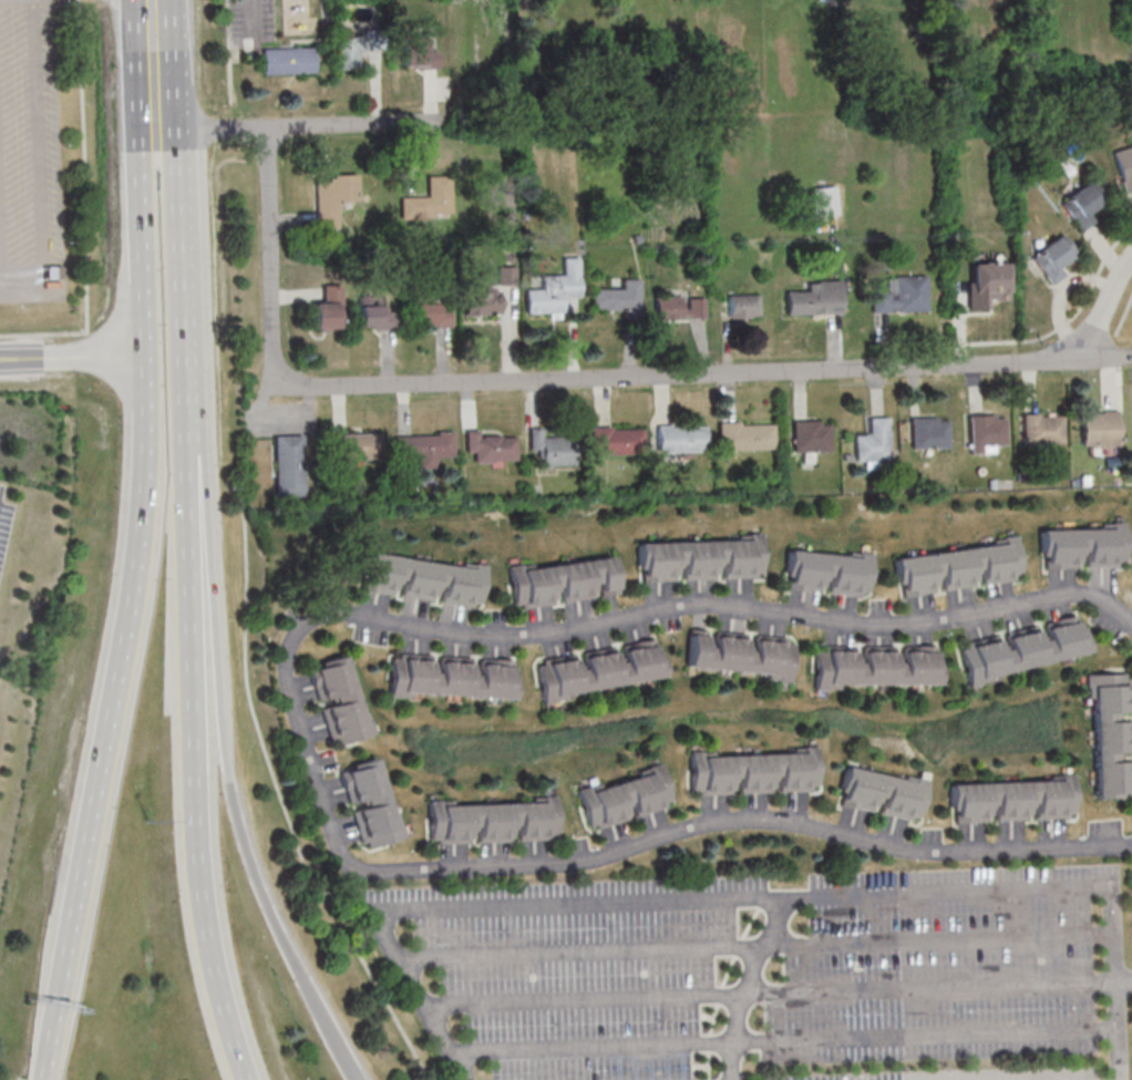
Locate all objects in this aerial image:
road: (253, 4)
building: (348, 52)
building: (418, 53)
building: (289, 60)
road: (154, 65)
road: (358, 125)
road: (210, 130)
road: (156, 143)
parking lot: (30, 154)
building: (1124, 167)
building: (330, 200)
building: (430, 200)
building: (824, 200)
building: (1081, 204)
road: (85, 209)
road: (270, 249)
road: (169, 254)
road: (152, 255)
building: (1052, 258)
building: (53, 272)
building: (986, 282)
building: (554, 289)
building: (902, 296)
building: (615, 301)
building: (816, 301)
building: (480, 302)
building: (743, 306)
building: (679, 308)
building: (328, 309)
building: (431, 313)
building: (374, 315)
road: (73, 358)
road: (1104, 359)
road: (731, 374)
building: (1040, 429)
building: (1099, 429)
building: (986, 430)
building: (928, 433)
building: (748, 436)
building: (680, 439)
building: (815, 440)
building: (615, 442)
building: (872, 442)
building: (424, 446)
building: (352, 449)
building: (491, 449)
building: (549, 449)
building: (287, 466)
building: (1083, 547)
building: (700, 558)
building: (956, 567)
building: (826, 573)
building: (421, 579)
building: (562, 582)
road: (212, 603)
building: (1021, 649)
building: (739, 654)
building: (874, 667)
building: (596, 670)
building: (450, 678)
building: (339, 700)
road: (113, 702)
road: (194, 706)
road: (296, 716)
building: (1110, 736)
building: (753, 772)
road: (275, 783)
building: (882, 793)
building: (625, 796)
building: (1012, 800)
building: (370, 803)
building: (492, 820)
road: (740, 899)
road: (949, 942)
road: (761, 947)
road: (289, 953)
road: (568, 955)
road: (403, 964)
road: (1122, 977)
road: (1113, 983)
road: (941, 985)
road: (745, 986)
road: (741, 994)
road: (583, 1001)
road: (440, 1007)
road: (939, 1033)
road: (747, 1040)
road: (713, 1042)
road: (588, 1048)
road: (467, 1053)
road: (43, 1063)
road: (349, 1064)
road: (240, 1068)
road: (241, 1068)

